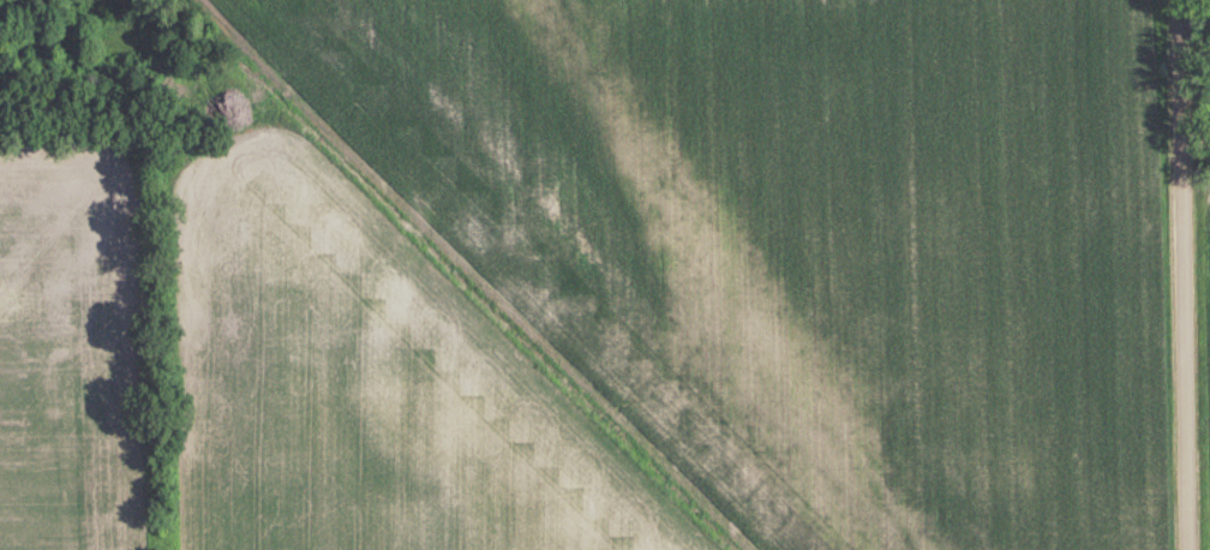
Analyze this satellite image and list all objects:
road: (1181, 275)

